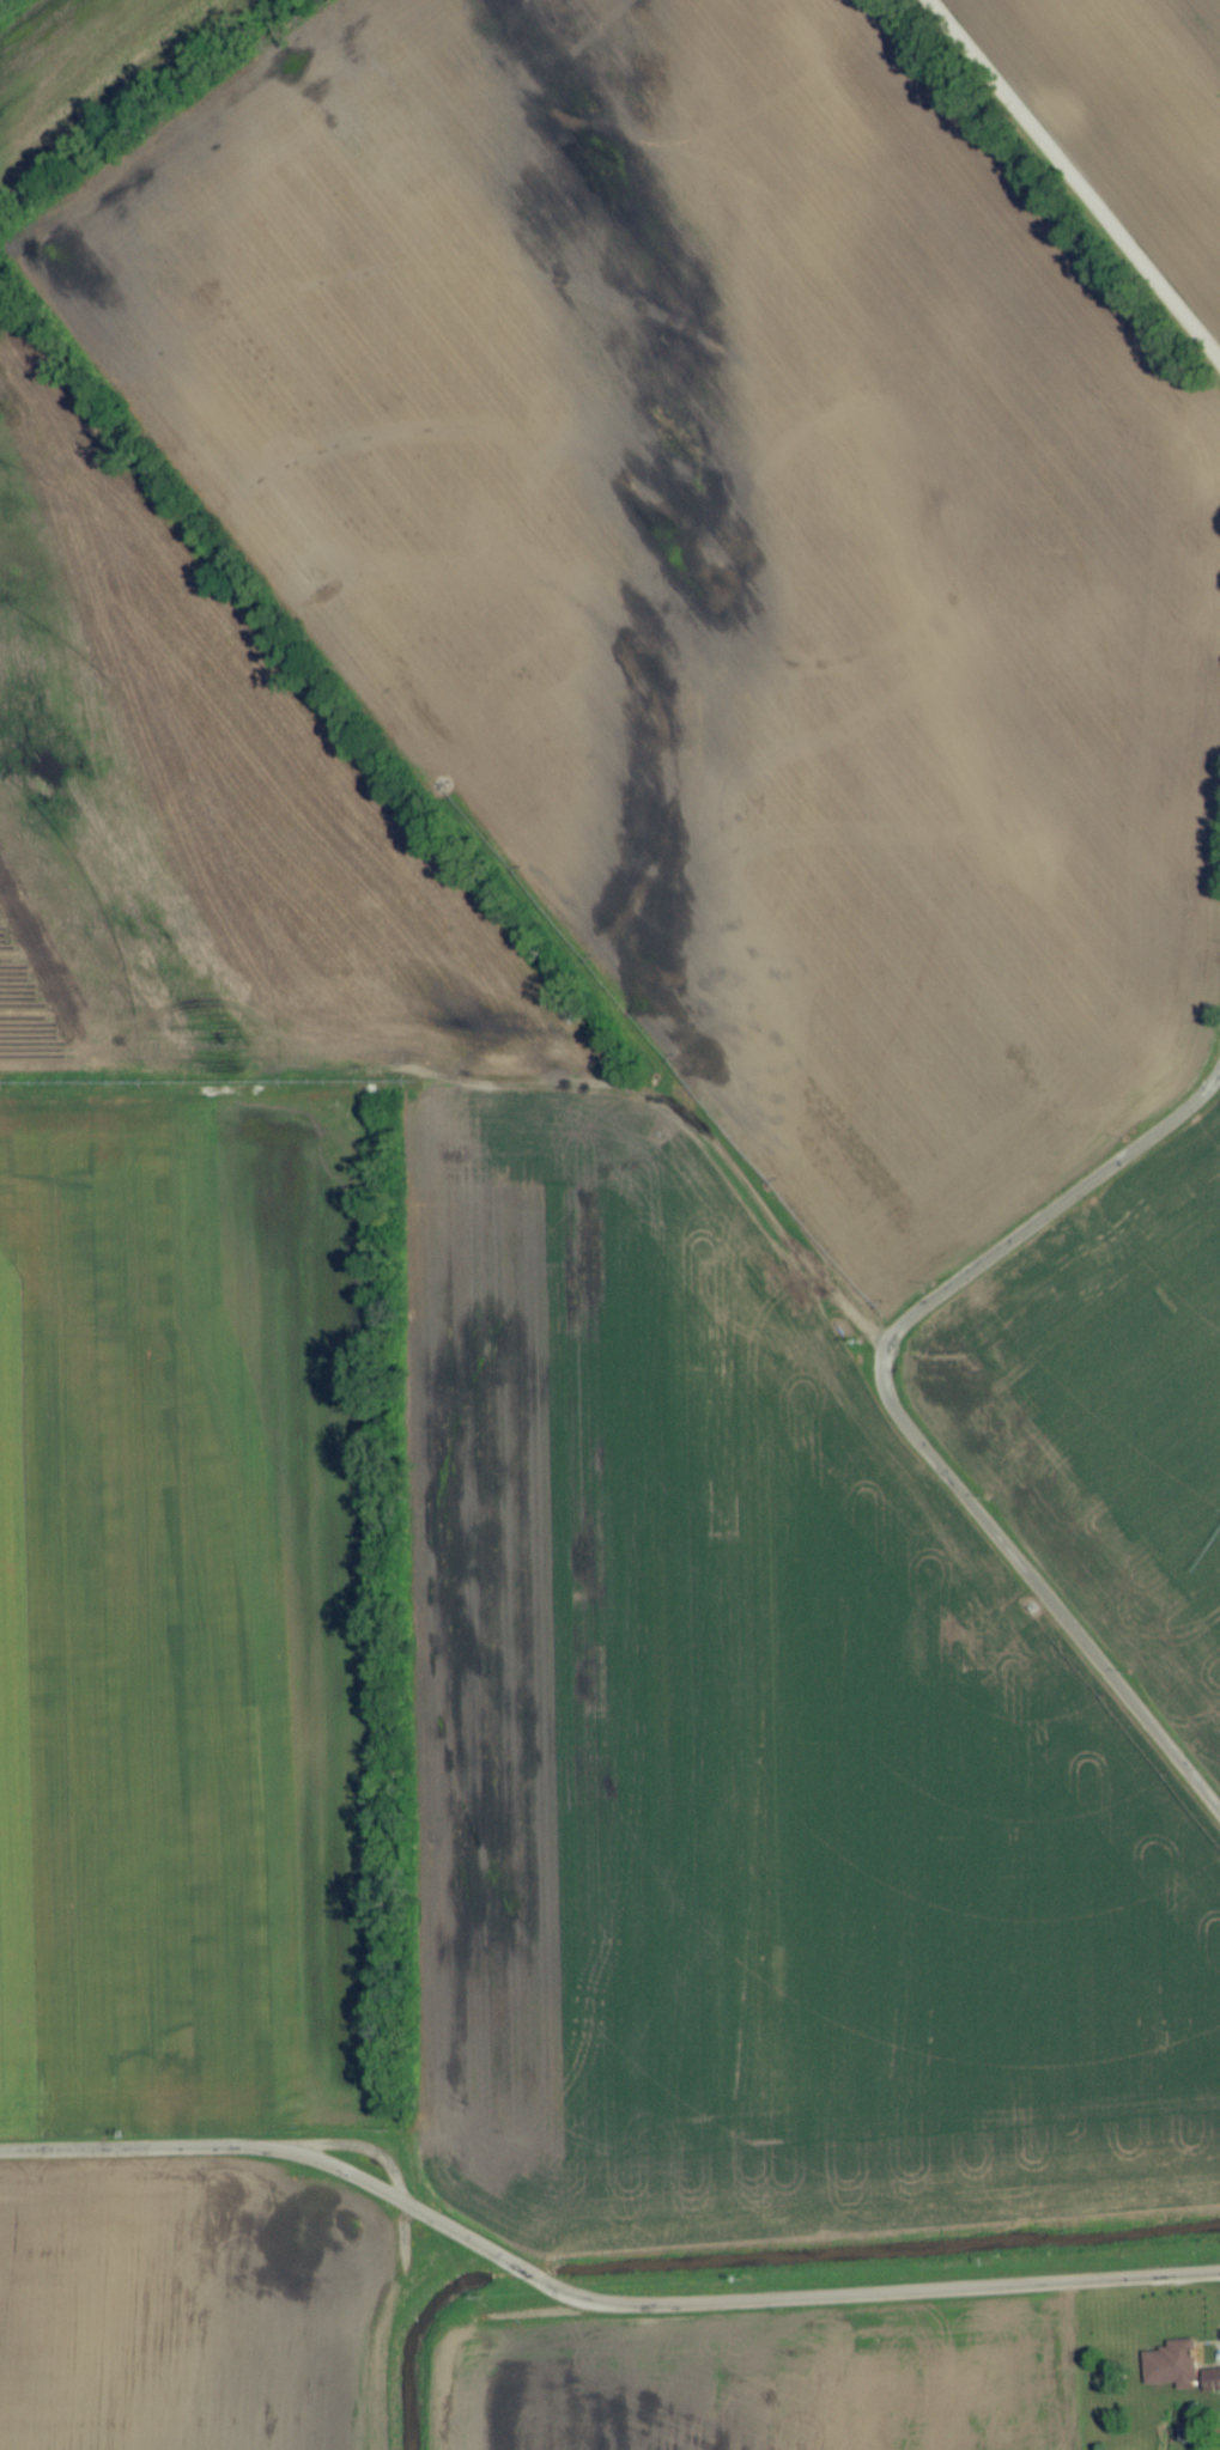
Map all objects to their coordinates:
road: (1074, 183)
road: (903, 1422)
road: (600, 2315)
building: (1172, 2373)
building: (1212, 2389)

